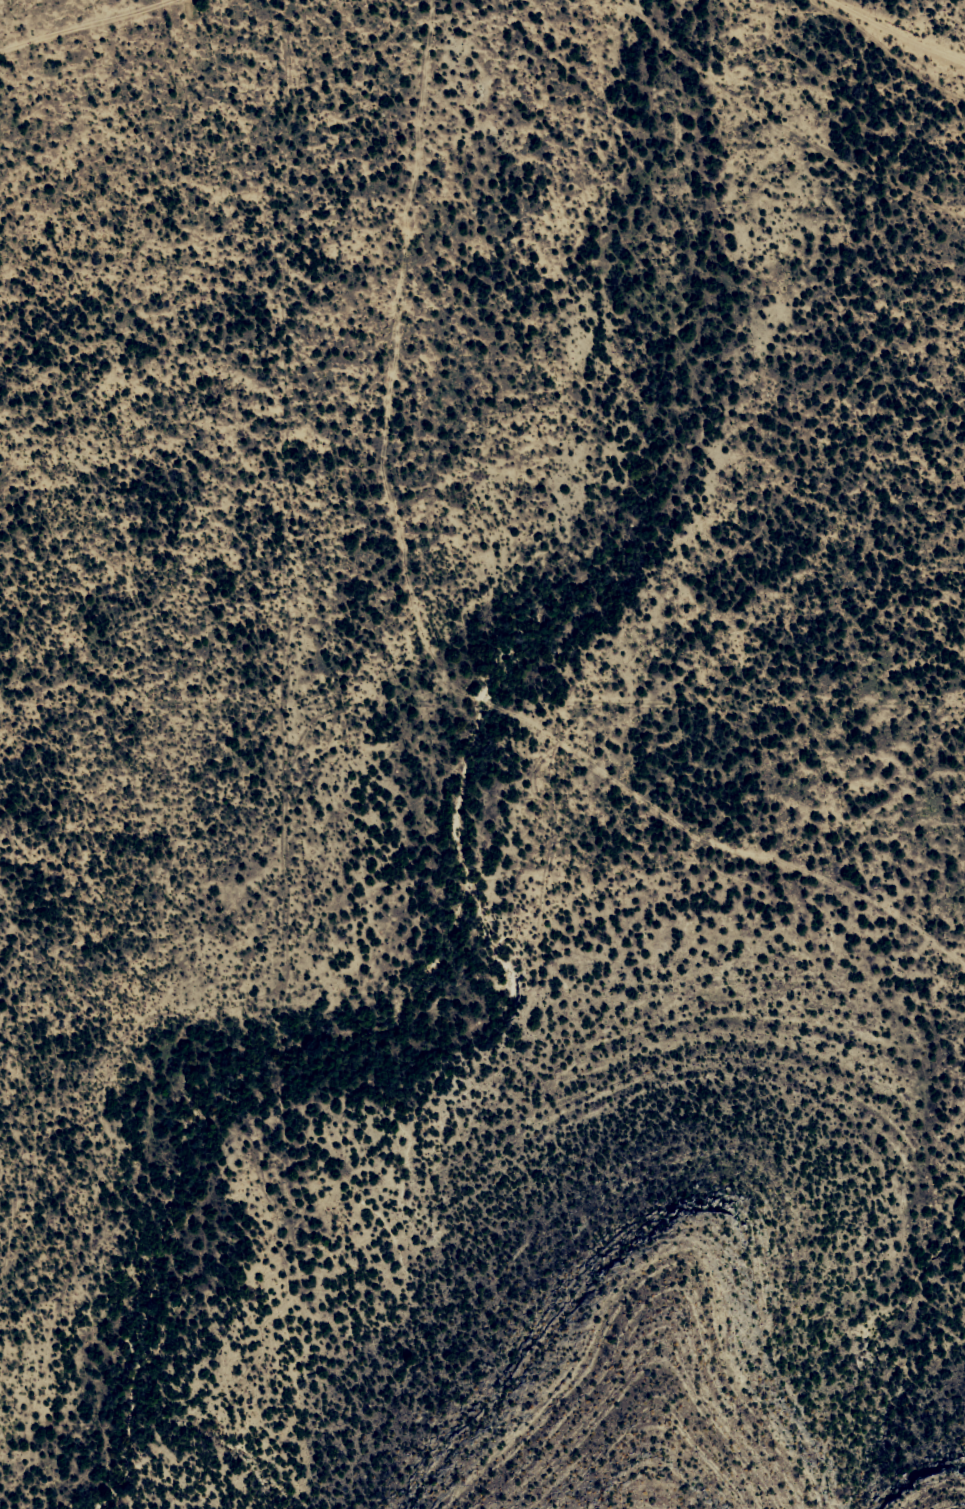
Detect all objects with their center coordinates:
road: (117, 29)
road: (858, 45)

